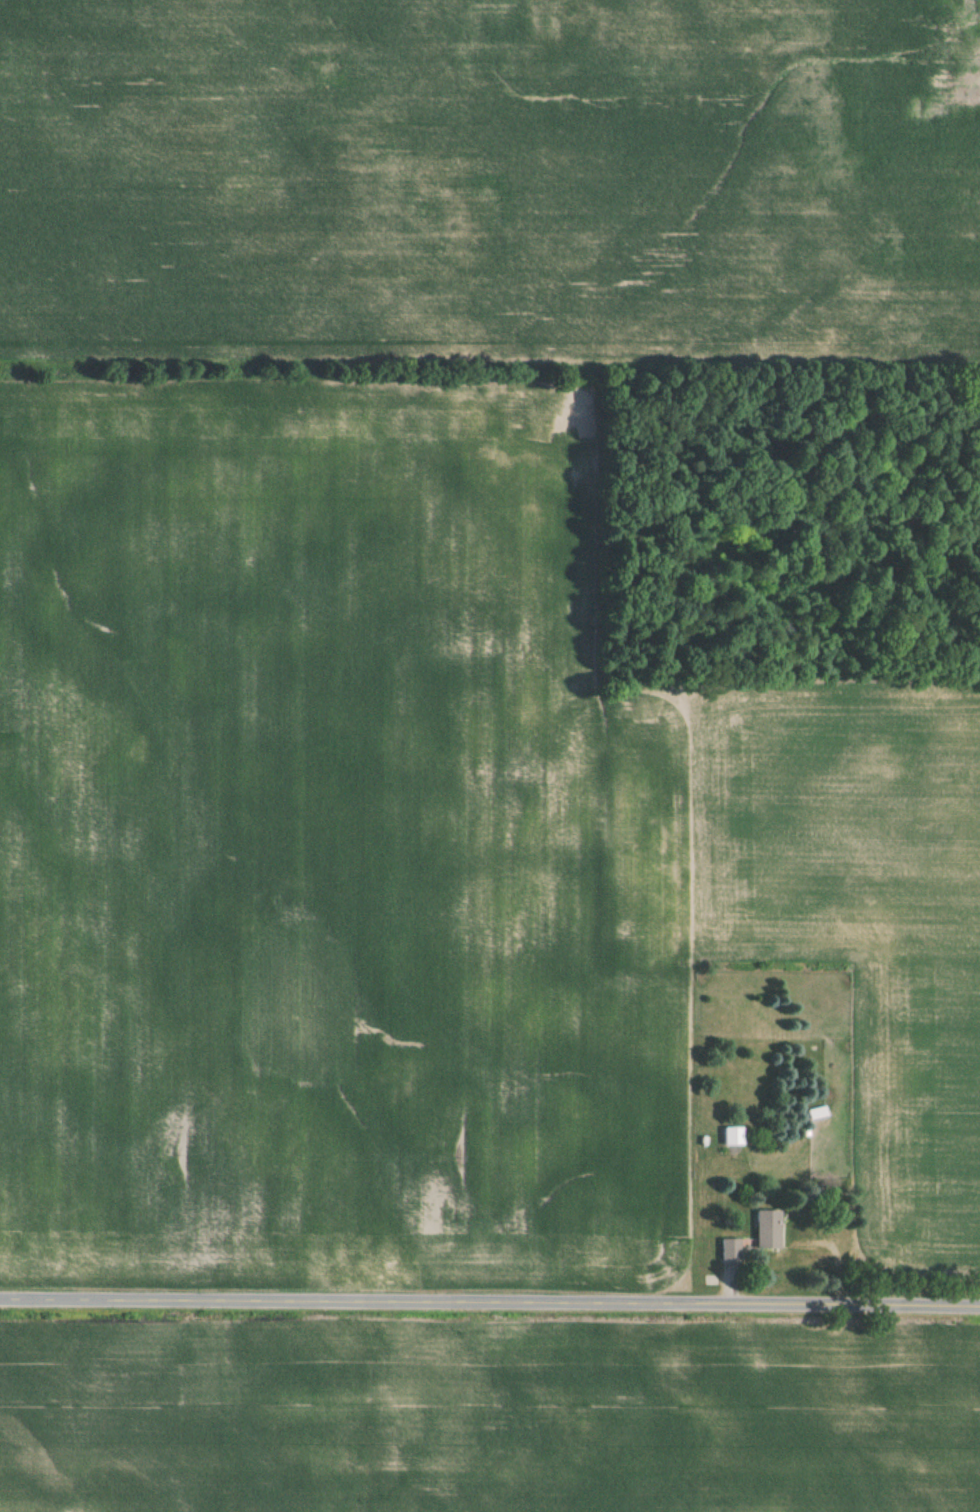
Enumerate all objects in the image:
building: (766, 1232)
building: (729, 1252)
road: (490, 1303)

